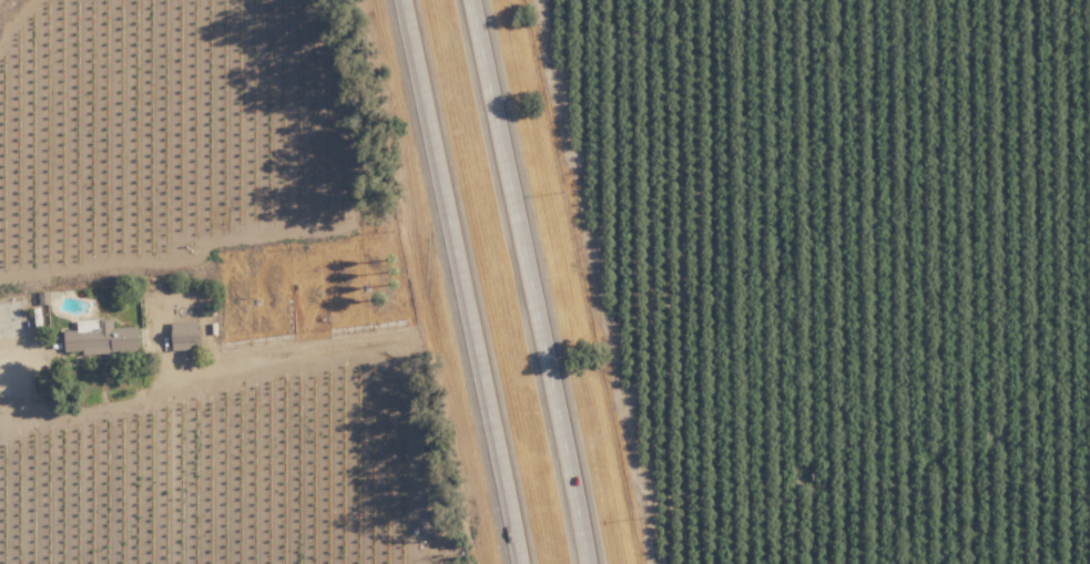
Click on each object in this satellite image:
road: (9, 11)
road: (468, 281)
road: (538, 281)
building: (101, 337)
road: (236, 372)
road: (878, 465)

